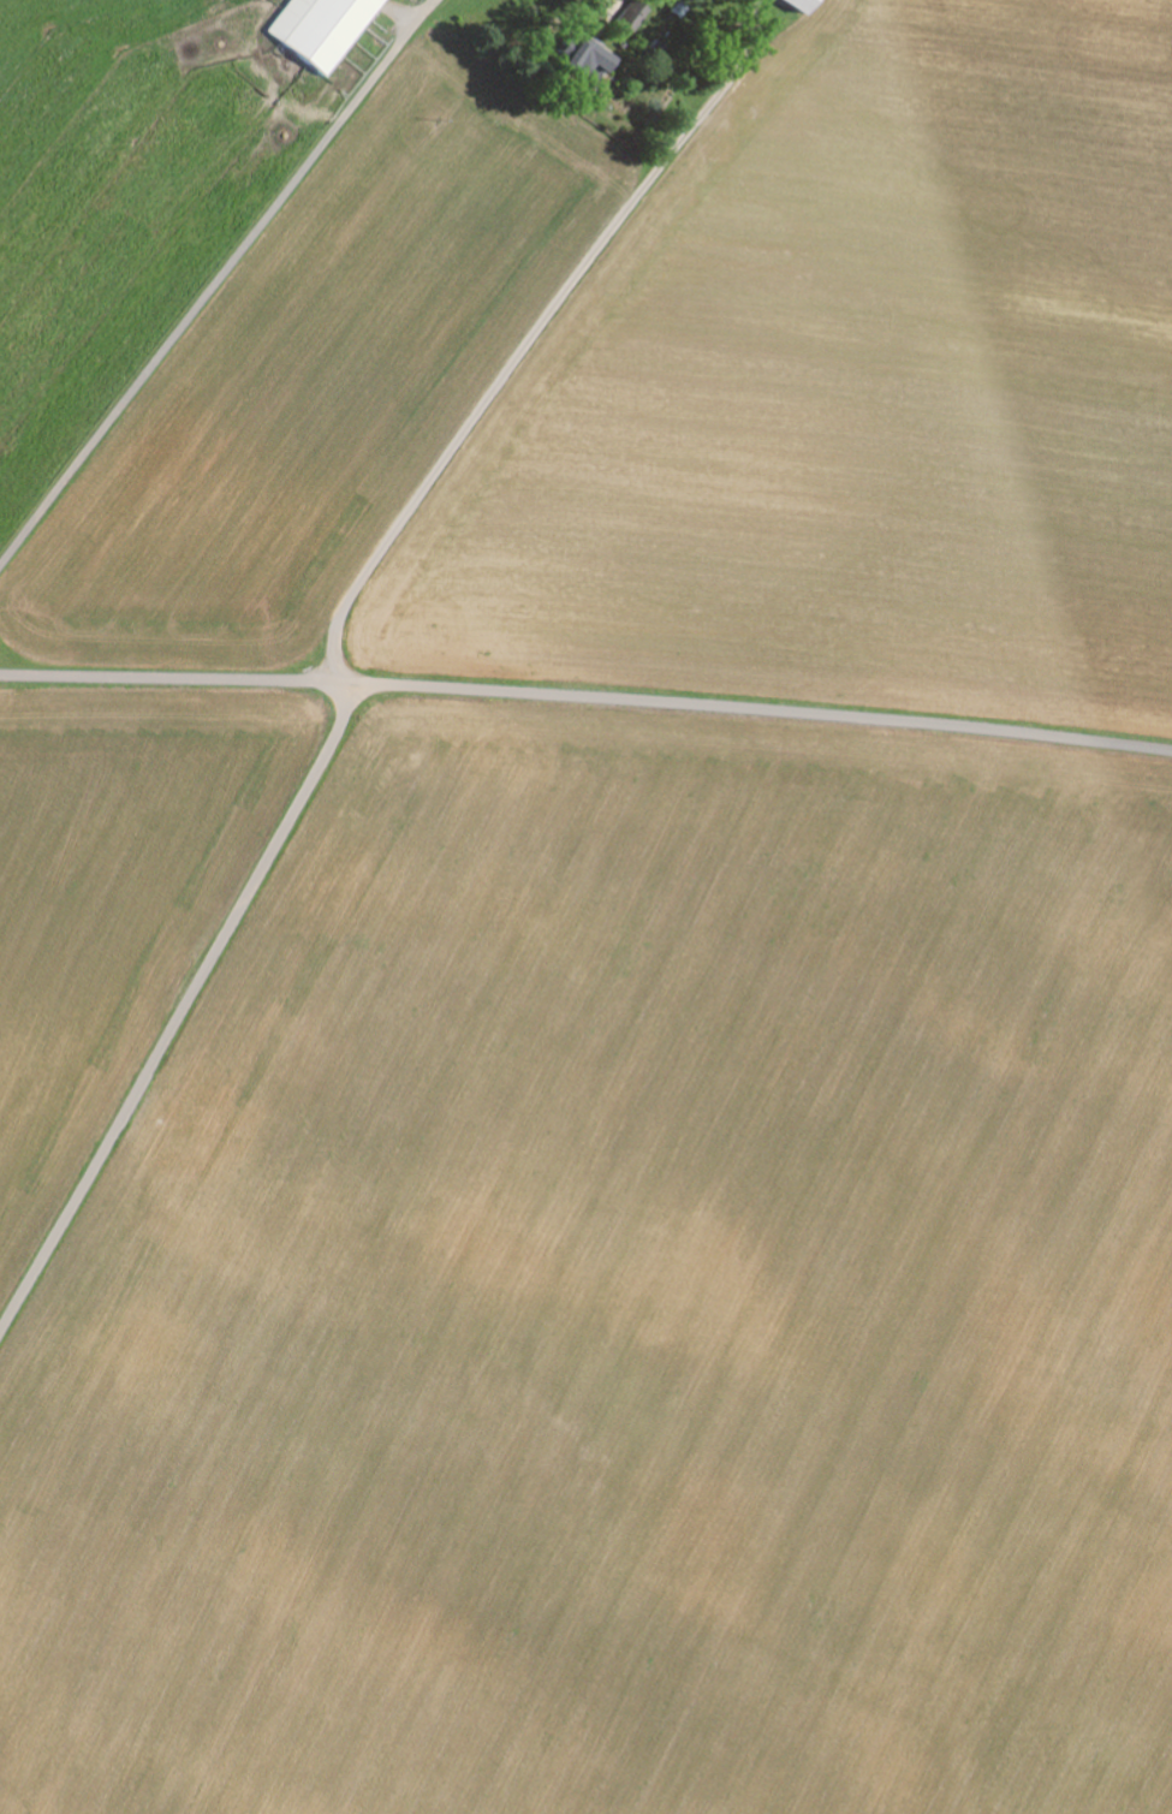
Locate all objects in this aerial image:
building: (798, 5)
building: (635, 19)
building: (320, 28)
building: (587, 56)
road: (215, 279)
road: (534, 335)
road: (587, 696)
road: (183, 1009)

